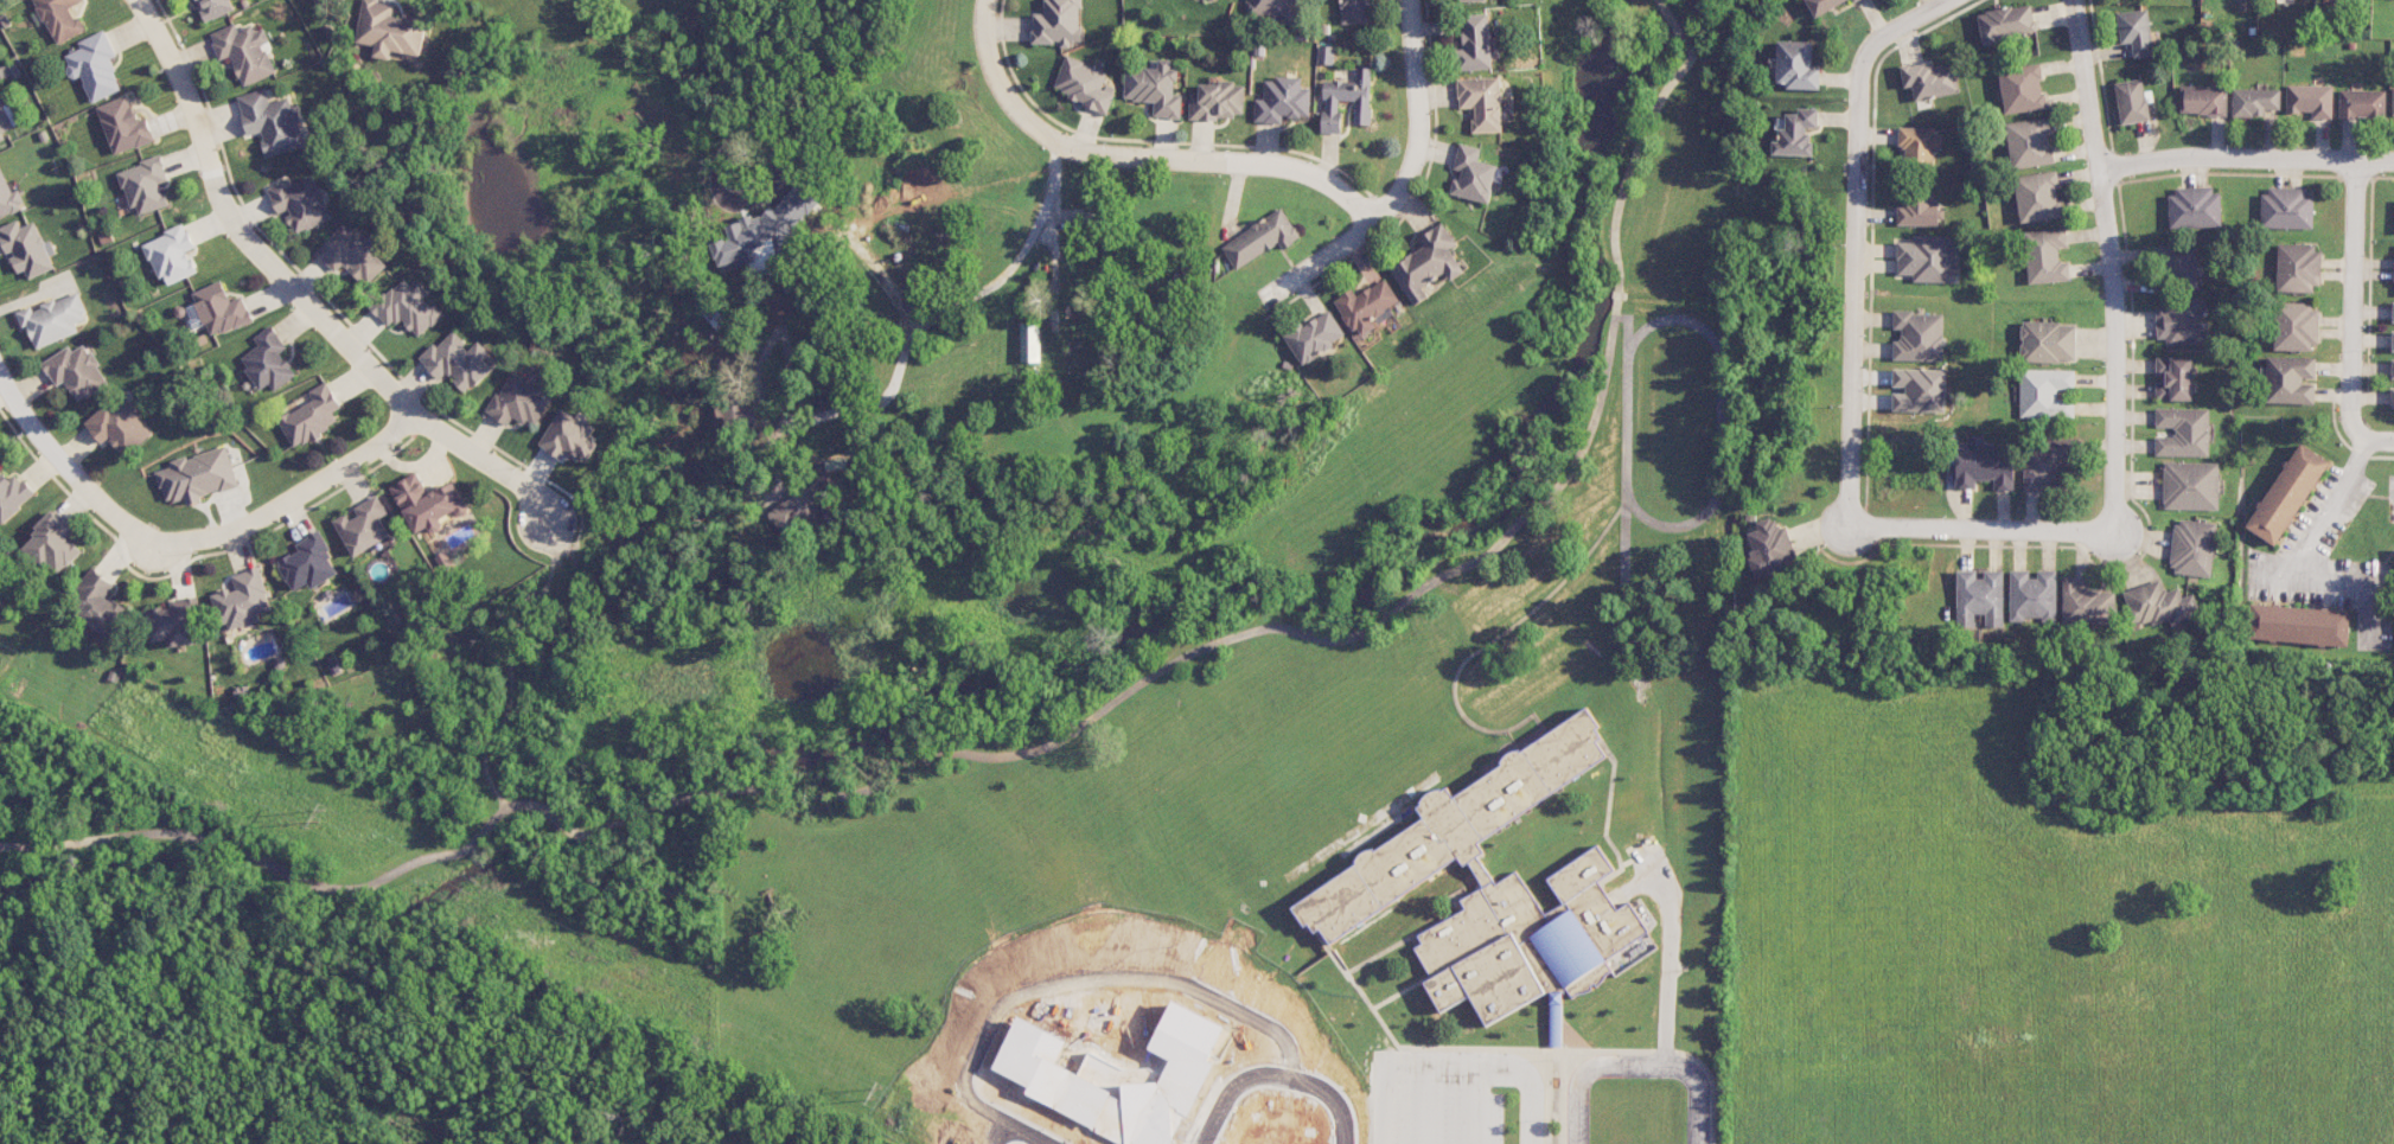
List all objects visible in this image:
building: (1468, 0)
building: (1856, 0)
building: (2285, 0)
building: (1211, 1)
building: (324, 4)
building: (1824, 5)
building: (215, 7)
building: (1276, 9)
building: (1354, 11)
building: (59, 18)
building: (1059, 23)
road: (1905, 23)
building: (2006, 24)
building: (389, 30)
building: (2136, 32)
building: (1475, 43)
building: (244, 51)
building: (1796, 65)
building: (94, 66)
road: (992, 75)
building: (1930, 79)
building: (1084, 84)
building: (1155, 88)
building: (2022, 89)
building: (1346, 100)
building: (2310, 100)
building: (1218, 101)
building: (1282, 101)
building: (2131, 101)
building: (2205, 101)
building: (2255, 101)
building: (2393, 101)
building: (1482, 102)
building: (2362, 103)
building: (272, 121)
building: (4, 122)
building: (123, 126)
building: (1796, 133)
building: (2030, 142)
building: (1921, 145)
road: (2246, 156)
road: (1217, 159)
building: (1473, 174)
building: (145, 185)
road: (1405, 186)
building: (2039, 196)
building: (8, 197)
building: (300, 203)
road: (745, 207)
building: (2195, 207)
building: (2287, 209)
building: (1920, 211)
building: (1260, 238)
building: (26, 248)
building: (351, 253)
building: (172, 255)
building: (2047, 256)
building: (1930, 258)
building: (1428, 263)
road: (2112, 264)
building: (2181, 266)
building: (2298, 268)
road: (2352, 286)
road: (1854, 290)
road: (299, 298)
building: (1368, 306)
building: (407, 307)
building: (221, 309)
building: (2393, 312)
building: (53, 319)
building: (2181, 321)
building: (2296, 326)
building: (1315, 335)
building: (1920, 335)
building: (2392, 340)
building: (2048, 341)
building: (1029, 343)
building: (268, 360)
building: (457, 362)
building: (2392, 369)
building: (76, 371)
building: (2175, 378)
building: (2291, 379)
building: (1919, 390)
building: (2047, 392)
building: (2392, 397)
building: (519, 400)
building: (311, 416)
building: (120, 424)
building: (2183, 432)
building: (568, 436)
road: (2363, 436)
building: (1983, 464)
building: (2047, 465)
building: (198, 475)
building: (2191, 485)
building: (2287, 493)
building: (13, 494)
building: (428, 503)
building: (794, 507)
building: (363, 525)
road: (1981, 530)
road: (2309, 539)
road: (186, 542)
building: (53, 545)
building: (1771, 548)
building: (2194, 548)
building: (308, 563)
building: (2032, 595)
building: (1979, 596)
building: (243, 600)
building: (2087, 603)
building: (2159, 605)
building: (101, 606)
building: (175, 622)
building: (2299, 625)
road: (510, 669)
road: (1052, 743)
power tower: (317, 817)
building: (1493, 888)
road: (1499, 1065)
power tower: (876, 1095)
road: (1378, 1097)

